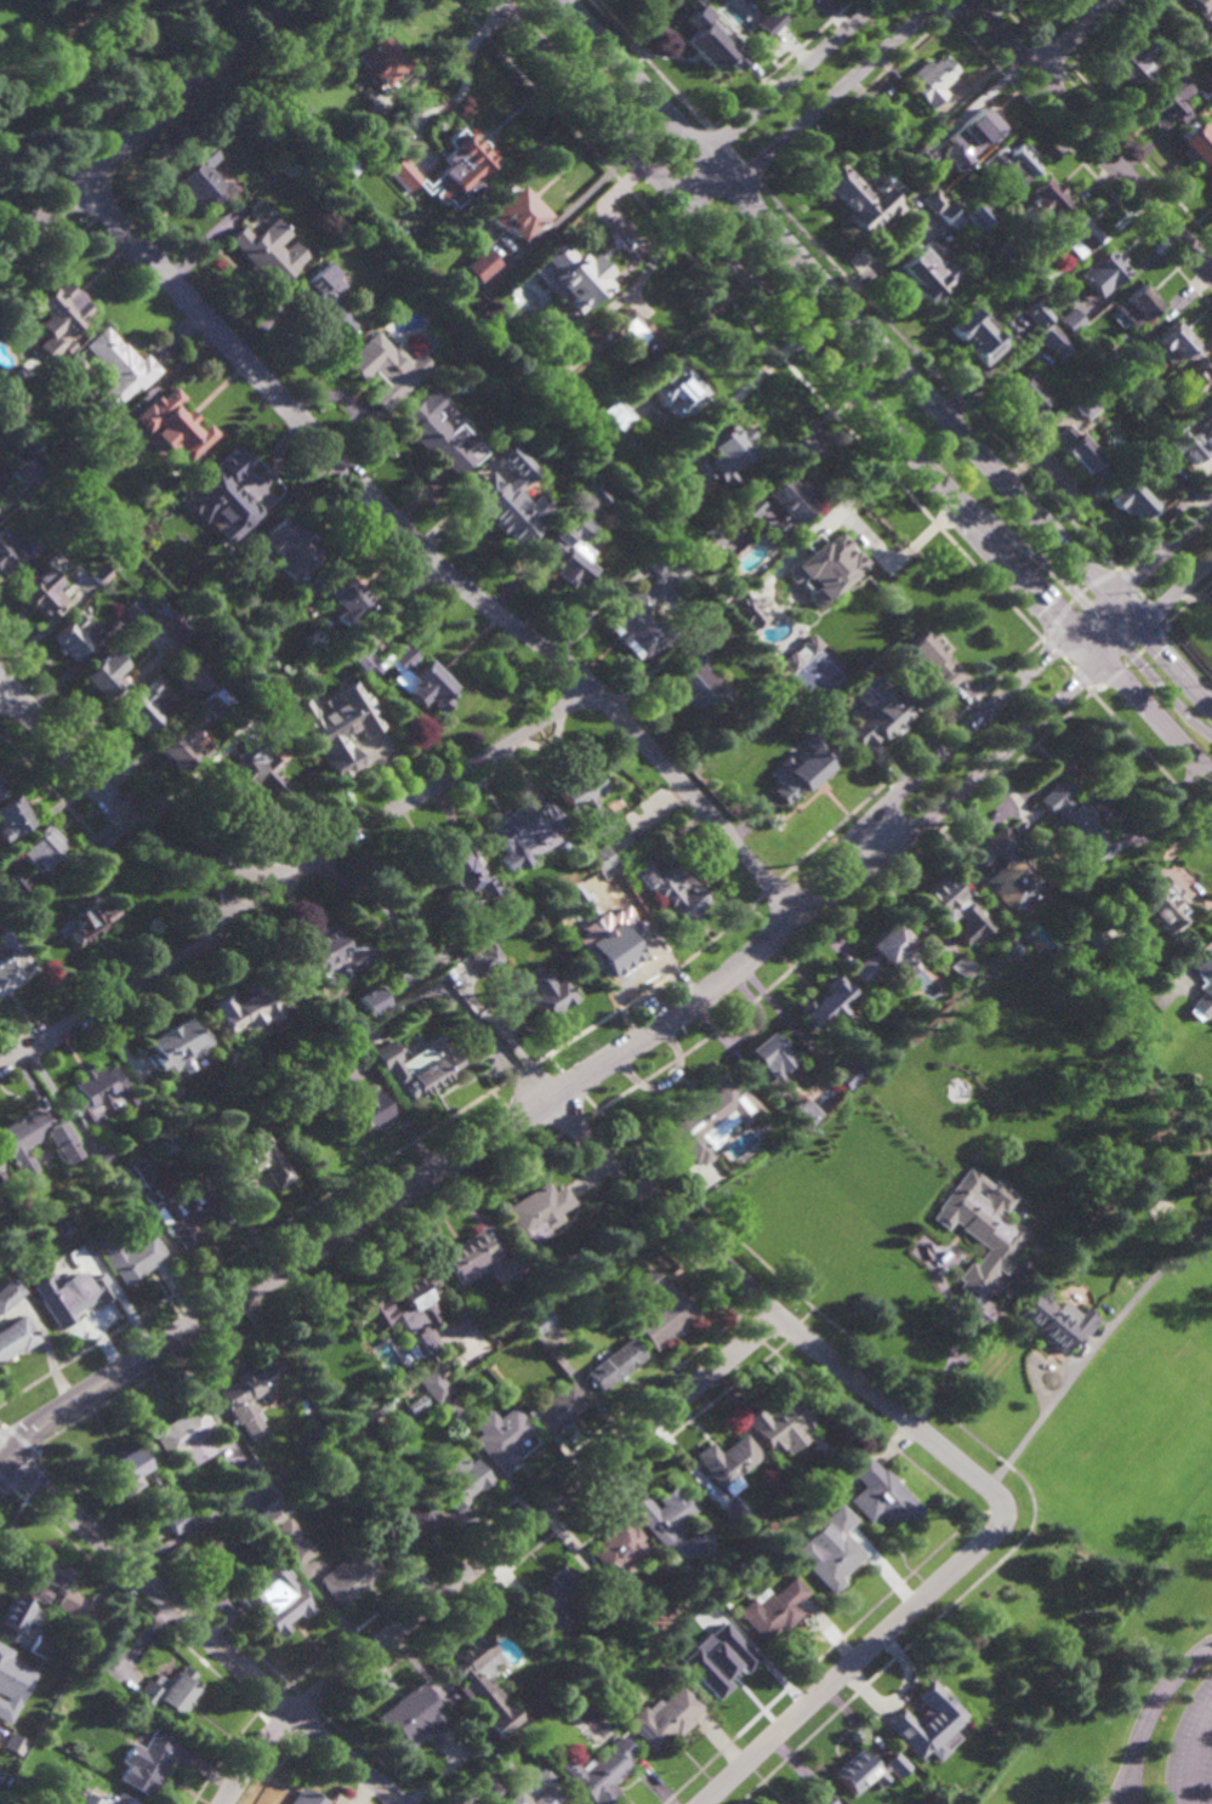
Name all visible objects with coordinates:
road: (97, 6)
road: (113, 6)
building: (1202, 10)
building: (769, 22)
road: (1072, 35)
building: (710, 36)
building: (1185, 36)
building: (756, 41)
road: (51, 45)
building: (375, 59)
building: (1128, 61)
road: (650, 64)
park: (84, 76)
building: (928, 78)
building: (1205, 86)
road: (770, 93)
road: (854, 98)
building: (1166, 99)
road: (222, 101)
road: (816, 108)
building: (362, 120)
building: (975, 125)
road: (143, 130)
road: (1089, 133)
building: (1194, 138)
road: (735, 155)
building: (920, 157)
building: (1009, 160)
building: (462, 161)
road: (1080, 161)
building: (345, 166)
building: (402, 172)
building: (201, 178)
building: (1211, 180)
building: (855, 195)
building: (1040, 199)
building: (933, 200)
road: (104, 210)
building: (513, 210)
building: (975, 214)
building: (949, 215)
building: (1071, 235)
building: (1008, 246)
building: (266, 251)
road: (49, 257)
building: (477, 263)
building: (1100, 271)
building: (926, 273)
building: (567, 274)
building: (1041, 286)
building: (324, 301)
building: (1134, 305)
building: (1036, 313)
building: (53, 317)
road: (746, 319)
building: (1071, 320)
building: (539, 328)
building: (627, 330)
building: (975, 335)
building: (593, 336)
building: (1053, 341)
building: (1171, 342)
road: (887, 353)
building: (1104, 359)
building: (386, 366)
building: (115, 368)
building: (1116, 370)
road: (938, 376)
building: (1194, 381)
road: (855, 387)
building: (676, 392)
building: (1026, 397)
building: (1085, 406)
building: (615, 414)
building: (1206, 421)
building: (173, 425)
building: (431, 436)
building: (812, 443)
building: (1187, 448)
building: (722, 453)
building: (1077, 453)
building: (1161, 455)
building: (29, 466)
building: (234, 489)
building: (594, 496)
building: (507, 497)
building: (1130, 501)
building: (774, 505)
road: (1163, 527)
building: (285, 550)
road: (1161, 551)
building: (567, 552)
building: (6, 553)
road: (432, 559)
building: (660, 560)
building: (820, 567)
building: (97, 575)
road: (1059, 575)
building: (721, 590)
road: (1174, 591)
building: (338, 596)
road: (1140, 596)
road: (1072, 597)
building: (35, 601)
road: (1188, 601)
traffic signals: (1086, 605)
building: (132, 609)
building: (744, 613)
building: (639, 616)
traffic signals: (1137, 624)
traffic signals: (1075, 628)
building: (180, 630)
building: (73, 638)
building: (163, 644)
building: (808, 644)
road: (1184, 650)
traffic signals: (1127, 655)
building: (793, 659)
building: (932, 659)
road: (1128, 660)
road: (1063, 662)
road: (1138, 667)
building: (403, 673)
park: (820, 676)
building: (200, 677)
building: (101, 678)
building: (696, 679)
road: (1, 682)
building: (211, 702)
building: (144, 707)
building: (875, 708)
road: (80, 716)
road: (975, 721)
building: (347, 730)
road: (1002, 749)
building: (177, 751)
road: (911, 757)
road: (1148, 757)
building: (254, 769)
building: (802, 770)
building: (0, 778)
building: (1, 790)
road: (53, 792)
building: (584, 797)
building: (13, 812)
road: (130, 815)
building: (1077, 823)
road: (132, 826)
building: (520, 830)
building: (41, 846)
building: (1041, 855)
building: (601, 858)
building: (1012, 871)
building: (609, 872)
road: (296, 873)
building: (463, 876)
building: (18, 882)
building: (671, 886)
road: (770, 886)
road: (223, 888)
building: (956, 907)
building: (1162, 907)
building: (1079, 916)
road: (844, 917)
building: (91, 921)
building: (1094, 937)
building: (1015, 947)
building: (615, 949)
road: (1202, 951)
building: (886, 952)
building: (329, 955)
building: (486, 958)
building: (11, 961)
building: (962, 968)
road: (651, 986)
building: (1204, 988)
building: (544, 992)
building: (369, 1000)
building: (827, 1002)
building: (249, 1005)
road: (466, 1013)
building: (345, 1041)
building: (177, 1045)
building: (773, 1059)
building: (417, 1065)
road: (522, 1071)
building: (847, 1074)
building: (99, 1092)
road: (499, 1099)
building: (368, 1109)
building: (800, 1114)
building: (711, 1116)
building: (920, 1126)
road: (564, 1131)
building: (15, 1144)
building: (101, 1160)
building: (257, 1160)
building: (12, 1168)
road: (436, 1172)
building: (1, 1178)
building: (70, 1202)
building: (180, 1203)
building: (536, 1210)
building: (981, 1228)
building: (64, 1229)
road: (254, 1241)
building: (130, 1253)
building: (478, 1262)
building: (576, 1264)
building: (8, 1294)
building: (69, 1294)
road: (772, 1310)
building: (659, 1311)
building: (406, 1313)
building: (1054, 1321)
building: (539, 1322)
building: (15, 1338)
road: (961, 1345)
building: (613, 1365)
building: (440, 1368)
building: (434, 1387)
building: (249, 1396)
road: (1046, 1407)
building: (556, 1410)
building: (389, 1418)
road: (1, 1425)
building: (780, 1425)
building: (186, 1436)
building: (501, 1438)
road: (19, 1439)
traffic signals: (4, 1453)
building: (728, 1462)
building: (126, 1470)
building: (245, 1472)
building: (462, 1481)
building: (262, 1489)
building: (881, 1493)
road: (24, 1497)
building: (664, 1513)
building: (735, 1514)
building: (175, 1516)
building: (408, 1521)
building: (281, 1531)
building: (830, 1548)
road: (493, 1552)
building: (616, 1554)
building: (42, 1573)
building: (348, 1573)
building: (556, 1597)
building: (275, 1598)
building: (63, 1600)
building: (773, 1606)
building: (18, 1610)
park: (1030, 1624)
road: (199, 1629)
building: (545, 1629)
building: (40, 1644)
building: (4, 1654)
road: (855, 1658)
building: (723, 1662)
building: (483, 1683)
building: (170, 1690)
road: (1154, 1706)
building: (412, 1714)
building: (664, 1715)
building: (927, 1722)
building: (13, 1742)
parking lot: (1190, 1749)
road: (1191, 1753)
building: (146, 1760)
building: (500, 1763)
building: (866, 1769)
building: (599, 1770)
building: (4, 1779)
building: (547, 1785)
road: (1121, 1794)
road: (1130, 1794)
building: (306, 1797)
building: (818, 1798)
building: (108, 1799)
building: (1, 1803)

